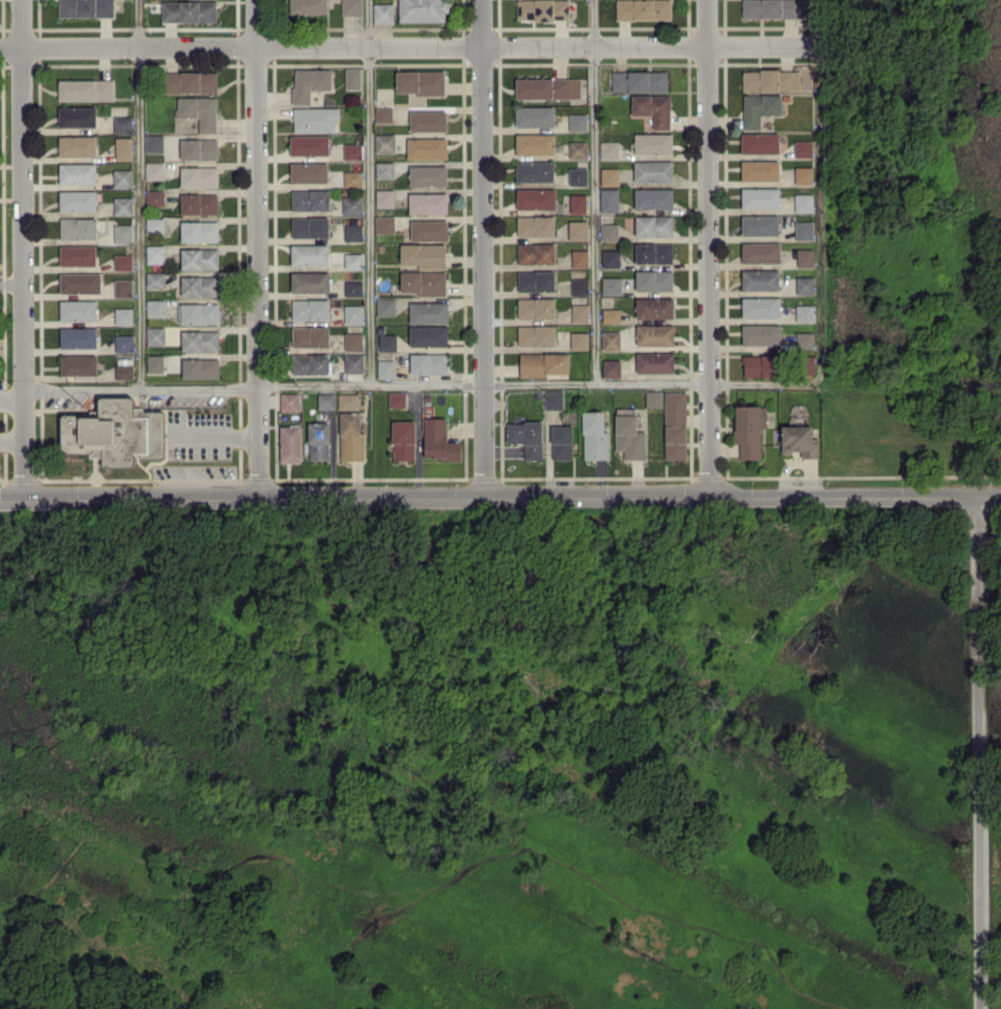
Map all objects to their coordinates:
building: (307, 6)
building: (350, 7)
building: (86, 8)
building: (775, 8)
building: (541, 9)
building: (642, 9)
building: (422, 10)
building: (188, 11)
building: (383, 12)
road: (409, 48)
building: (352, 78)
building: (777, 79)
building: (638, 80)
building: (190, 81)
building: (419, 81)
building: (309, 83)
building: (547, 87)
building: (85, 89)
building: (652, 108)
building: (759, 108)
building: (199, 111)
building: (383, 114)
building: (77, 116)
building: (534, 116)
building: (314, 119)
building: (427, 120)
building: (577, 121)
building: (122, 124)
building: (384, 142)
building: (759, 142)
building: (153, 143)
building: (534, 143)
building: (652, 143)
building: (309, 144)
building: (76, 145)
building: (123, 147)
building: (426, 147)
building: (198, 148)
building: (802, 148)
building: (577, 149)
building: (608, 149)
building: (352, 151)
building: (384, 169)
building: (154, 170)
building: (652, 170)
building: (759, 170)
building: (308, 171)
building: (534, 171)
building: (77, 173)
building: (427, 175)
building: (803, 175)
building: (199, 176)
building: (577, 176)
building: (609, 176)
building: (122, 177)
building: (352, 177)
road: (819, 189)
road: (593, 191)
road: (368, 193)
road: (138, 195)
building: (154, 197)
building: (384, 197)
building: (759, 197)
building: (535, 198)
building: (653, 198)
building: (309, 199)
building: (608, 199)
building: (77, 200)
building: (427, 202)
building: (803, 202)
building: (198, 203)
building: (577, 203)
building: (351, 204)
building: (122, 205)
building: (384, 224)
building: (154, 225)
building: (535, 225)
building: (653, 225)
building: (759, 225)
building: (309, 226)
building: (78, 228)
building: (428, 229)
building: (577, 229)
building: (803, 230)
building: (199, 231)
building: (609, 231)
building: (122, 232)
building: (352, 232)
road: (707, 249)
road: (258, 250)
road: (480, 250)
road: (21, 251)
building: (653, 252)
building: (760, 252)
building: (155, 253)
building: (535, 253)
building: (308, 254)
building: (423, 254)
building: (77, 255)
building: (804, 257)
building: (199, 258)
building: (579, 258)
building: (610, 258)
building: (353, 260)
building: (122, 261)
building: (155, 279)
building: (653, 279)
building: (759, 279)
building: (535, 280)
road: (11, 281)
building: (309, 281)
building: (80, 282)
building: (423, 282)
building: (199, 285)
building: (611, 285)
building: (804, 285)
building: (579, 286)
building: (122, 287)
building: (352, 288)
building: (385, 306)
building: (155, 307)
building: (536, 307)
building: (653, 307)
building: (760, 307)
building: (309, 309)
building: (77, 310)
building: (428, 312)
building: (579, 312)
building: (804, 312)
building: (198, 313)
building: (353, 313)
building: (123, 315)
building: (610, 315)
building: (654, 334)
building: (760, 334)
building: (155, 335)
building: (428, 335)
building: (536, 335)
building: (310, 336)
building: (78, 337)
building: (610, 339)
building: (804, 339)
building: (199, 340)
building: (579, 340)
building: (352, 341)
building: (386, 341)
building: (123, 342)
building: (353, 362)
building: (654, 362)
building: (154, 363)
building: (309, 363)
building: (428, 363)
building: (543, 363)
building: (77, 364)
building: (758, 365)
building: (200, 367)
building: (610, 367)
building: (124, 368)
building: (385, 368)
road: (539, 383)
road: (200, 389)
road: (82, 391)
road: (11, 394)
building: (653, 398)
building: (396, 399)
building: (553, 399)
building: (325, 400)
building: (289, 401)
building: (347, 401)
building: (675, 424)
building: (749, 429)
building: (114, 432)
parking lot: (202, 432)
building: (628, 434)
road: (214, 435)
building: (350, 436)
building: (594, 436)
building: (526, 437)
building: (318, 440)
building: (403, 440)
building: (438, 440)
building: (799, 440)
building: (561, 442)
road: (11, 443)
building: (289, 443)
road: (500, 499)
road: (978, 753)

